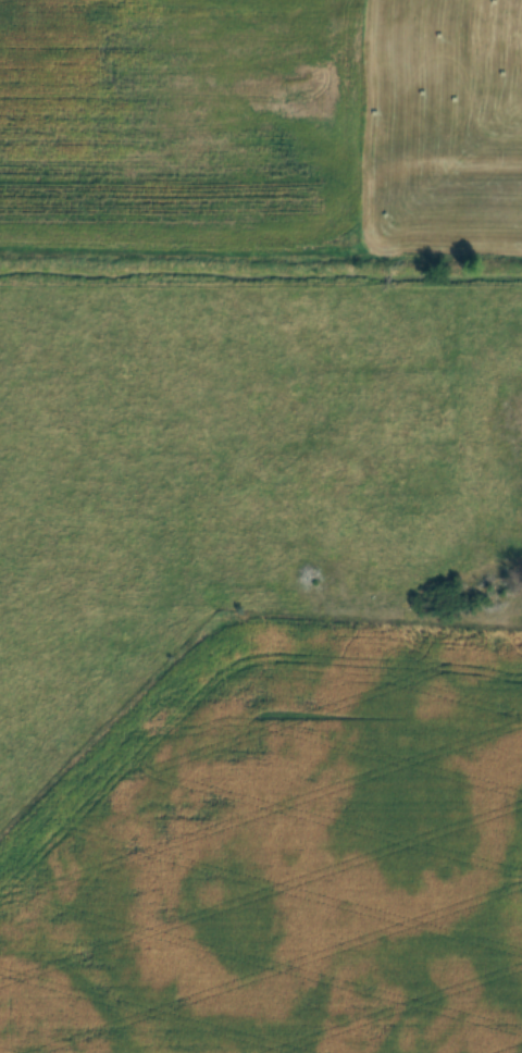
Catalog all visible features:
crop: (184, 116)

